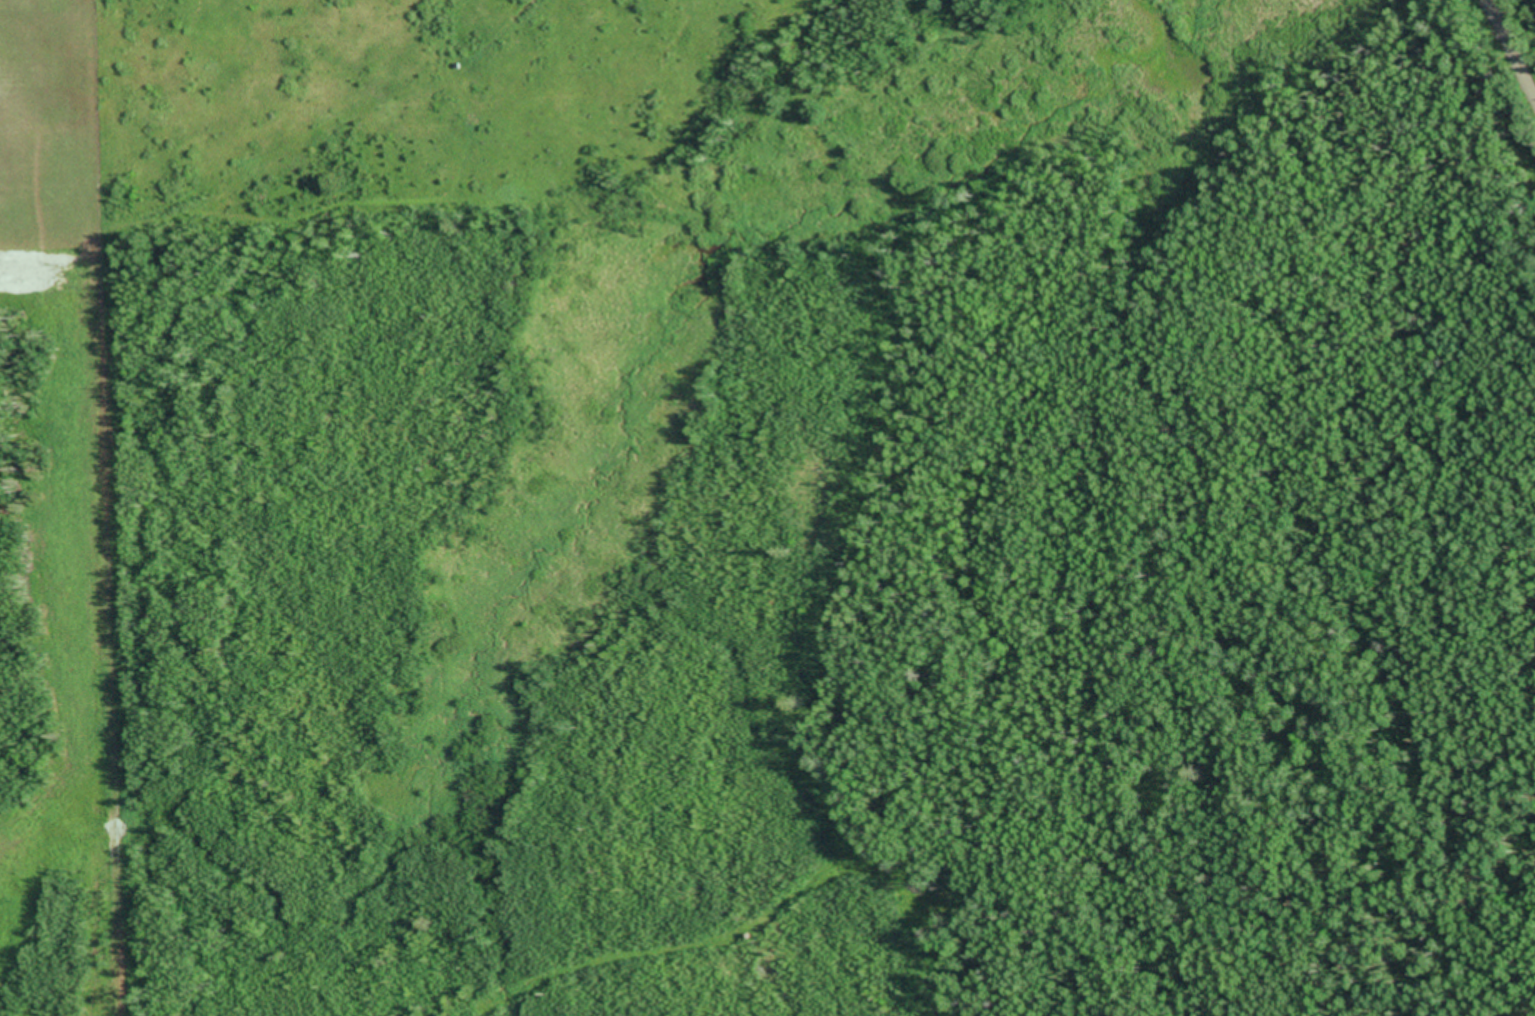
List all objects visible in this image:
road: (1527, 15)

